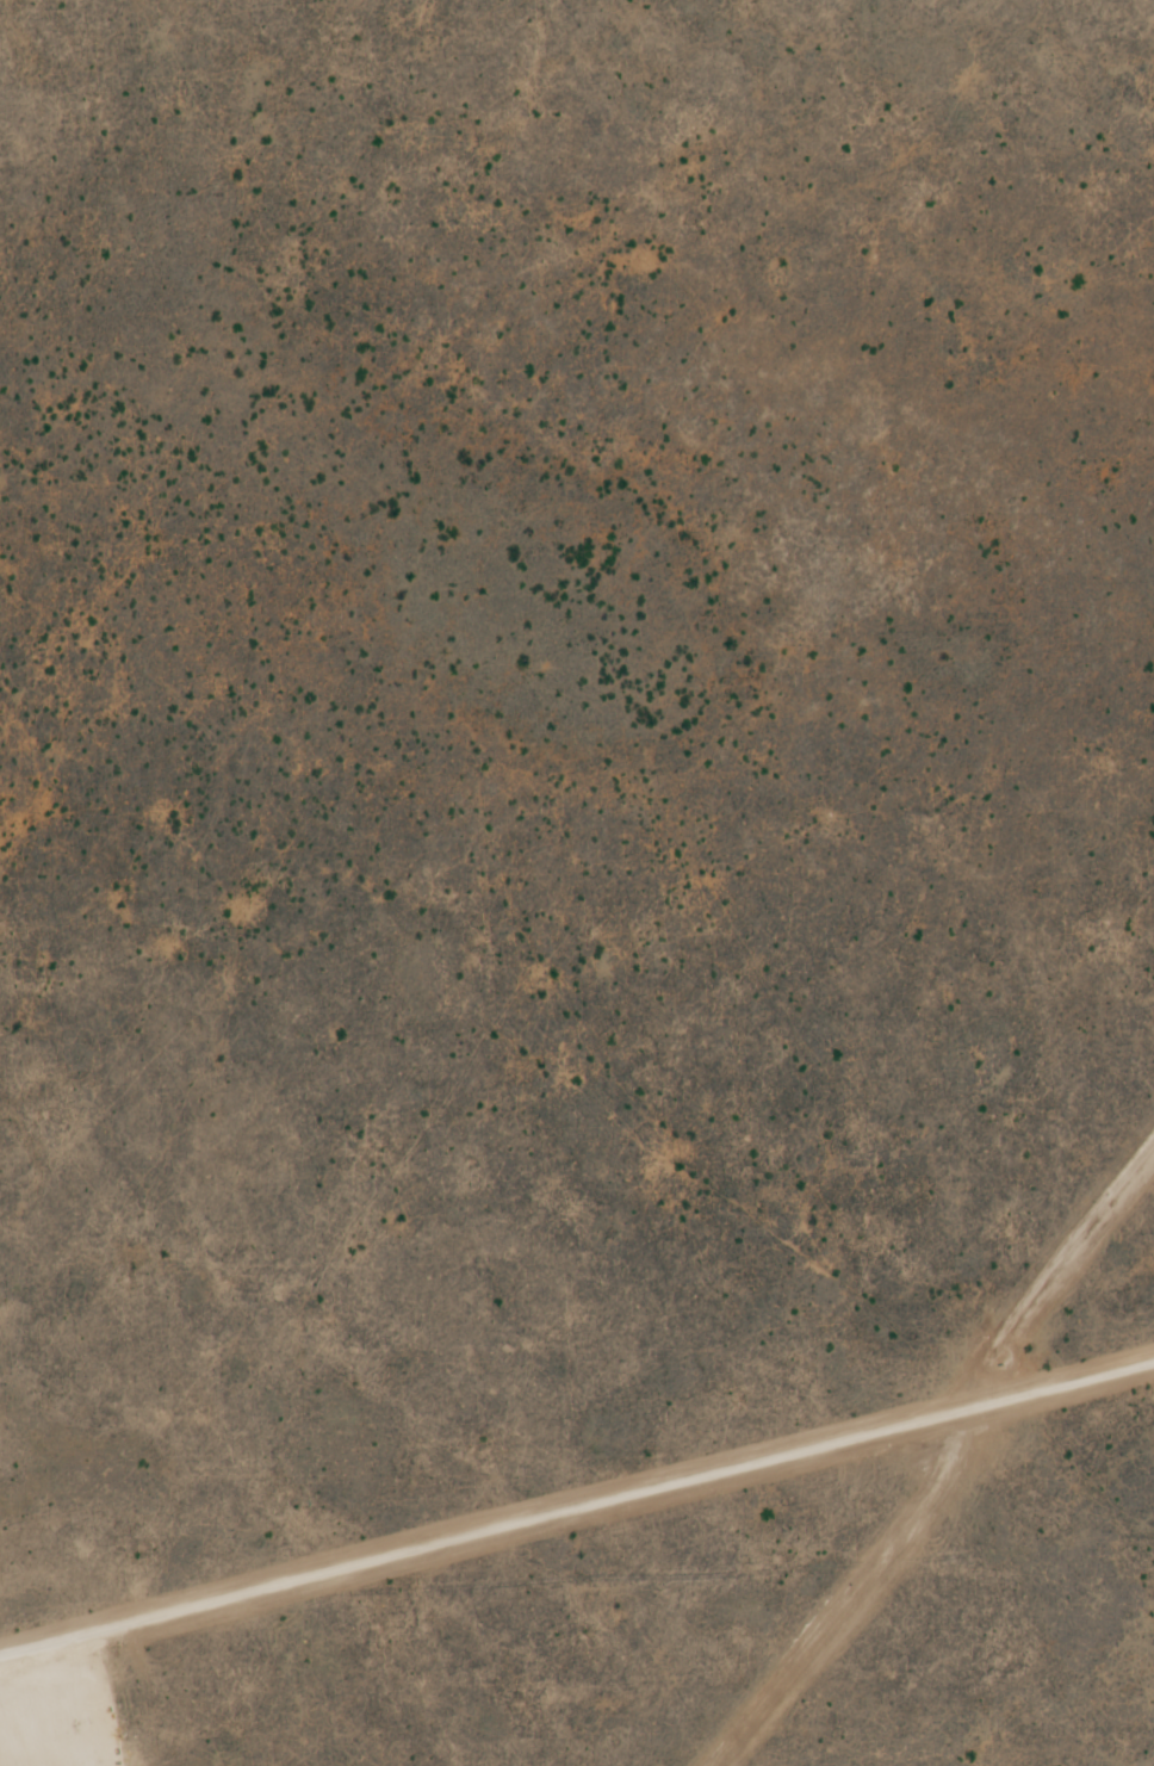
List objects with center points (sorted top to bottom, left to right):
road: (577, 1508)

